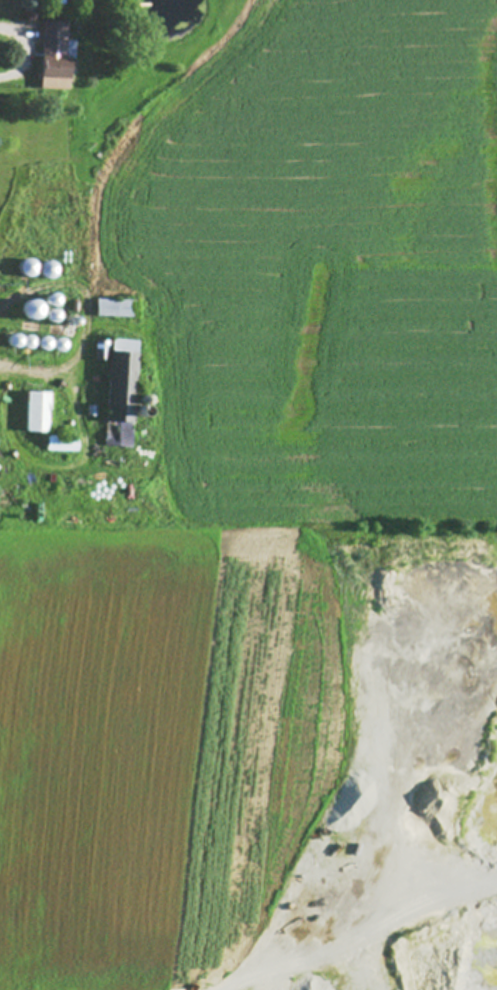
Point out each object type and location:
building: (57, 58)
building: (40, 269)
building: (119, 309)
building: (42, 312)
building: (103, 351)
building: (122, 393)
building: (38, 412)
building: (63, 444)
quarry: (392, 777)
road: (399, 927)

